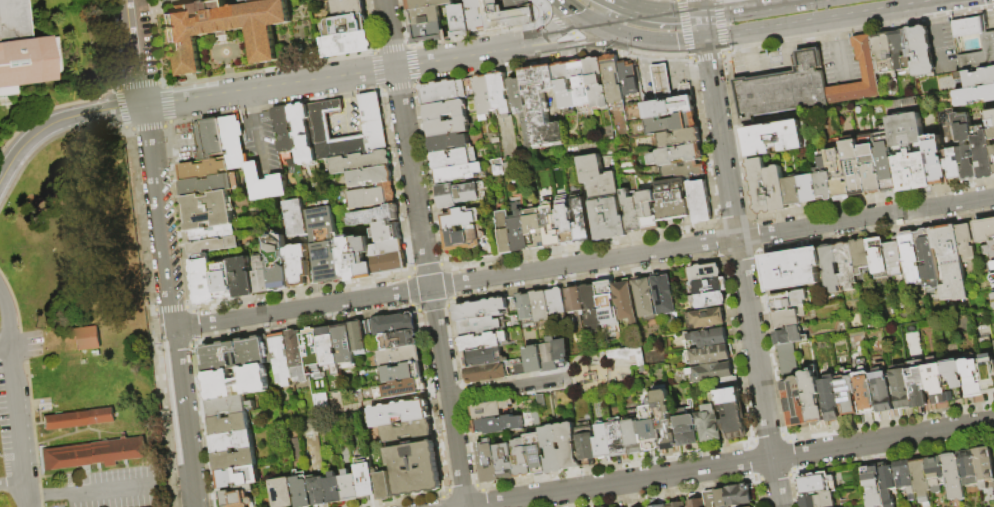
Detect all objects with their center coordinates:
building: (168, 0)
building: (316, 0)
building: (323, 0)
building: (427, 4)
road: (625, 6)
road: (699, 7)
building: (348, 8)
road: (756, 8)
road: (571, 9)
road: (612, 10)
road: (670, 14)
traffic signals: (701, 14)
road: (935, 14)
building: (476, 15)
building: (425, 17)
building: (505, 17)
traffic signals: (584, 18)
road: (829, 19)
building: (460, 22)
building: (346, 26)
road: (703, 27)
building: (224, 30)
road: (609, 30)
road: (834, 30)
road: (556, 32)
building: (428, 34)
traffic signals: (637, 39)
traffic signals: (705, 40)
road: (785, 40)
road: (670, 42)
building: (346, 45)
road: (583, 45)
road: (747, 45)
building: (987, 45)
road: (941, 48)
building: (24, 52)
building: (922, 52)
road: (135, 53)
building: (902, 54)
building: (883, 57)
building: (865, 58)
road: (788, 61)
road: (839, 61)
road: (750, 65)
road: (336, 77)
building: (979, 78)
building: (611, 79)
building: (628, 79)
building: (661, 82)
building: (580, 83)
building: (595, 83)
building: (564, 86)
building: (447, 91)
building: (783, 91)
building: (499, 92)
building: (518, 94)
building: (975, 94)
building: (483, 96)
road: (31, 100)
road: (249, 104)
building: (672, 104)
traffic signals: (144, 106)
building: (541, 107)
building: (989, 116)
road: (62, 119)
building: (435, 119)
building: (372, 123)
building: (319, 124)
building: (672, 124)
building: (284, 129)
building: (303, 133)
building: (990, 133)
building: (209, 139)
building: (679, 139)
building: (774, 139)
building: (233, 142)
road: (258, 142)
road: (407, 143)
building: (448, 143)
building: (964, 147)
building: (991, 150)
building: (676, 155)
building: (982, 156)
building: (457, 159)
building: (934, 159)
building: (359, 162)
building: (952, 163)
building: (869, 164)
building: (853, 166)
building: (501, 167)
building: (202, 169)
building: (684, 169)
building: (993, 169)
building: (887, 172)
building: (911, 172)
building: (458, 173)
building: (838, 174)
road: (1, 175)
building: (369, 176)
road: (1, 177)
building: (823, 177)
building: (209, 184)
building: (263, 184)
building: (759, 187)
building: (778, 189)
building: (802, 192)
building: (459, 194)
building: (372, 196)
building: (603, 199)
building: (699, 202)
building: (672, 206)
building: (647, 209)
building: (208, 210)
building: (632, 213)
building: (374, 215)
road: (159, 217)
building: (294, 218)
building: (459, 218)
building: (580, 221)
building: (566, 227)
building: (535, 229)
building: (551, 230)
building: (984, 230)
building: (385, 231)
building: (519, 232)
building: (505, 234)
building: (212, 239)
building: (463, 239)
road: (712, 241)
building: (964, 243)
building: (322, 245)
building: (386, 248)
building: (989, 249)
building: (908, 252)
building: (859, 253)
building: (876, 255)
building: (361, 257)
building: (892, 258)
building: (926, 258)
building: (346, 259)
building: (948, 262)
building: (276, 263)
building: (388, 263)
building: (296, 265)
building: (845, 265)
building: (992, 266)
building: (828, 267)
building: (791, 269)
park: (69, 272)
road: (742, 273)
building: (703, 274)
building: (241, 276)
building: (259, 276)
building: (991, 277)
building: (203, 281)
building: (224, 281)
building: (704, 288)
building: (663, 294)
building: (644, 297)
building: (788, 299)
building: (574, 300)
building: (992, 300)
building: (707, 301)
building: (556, 302)
building: (626, 302)
building: (606, 303)
building: (525, 307)
building: (540, 307)
road: (301, 308)
building: (591, 308)
building: (481, 309)
building: (787, 317)
building: (704, 319)
building: (393, 325)
building: (478, 326)
building: (367, 328)
building: (789, 335)
building: (357, 337)
building: (85, 338)
building: (709, 338)
building: (399, 340)
building: (482, 341)
building: (327, 346)
building: (344, 347)
building: (312, 353)
building: (563, 354)
building: (623, 354)
building: (236, 355)
building: (549, 355)
building: (708, 355)
road: (4, 357)
building: (399, 357)
building: (481, 357)
building: (296, 358)
building: (533, 359)
building: (786, 359)
building: (280, 360)
road: (592, 361)
building: (520, 370)
park: (604, 371)
building: (485, 373)
building: (710, 373)
building: (401, 374)
building: (971, 379)
building: (989, 379)
building: (953, 380)
building: (236, 383)
building: (917, 383)
building: (936, 383)
building: (901, 386)
building: (406, 388)
road: (508, 388)
building: (882, 390)
building: (728, 391)
building: (865, 391)
road: (181, 394)
building: (847, 395)
road: (447, 396)
building: (812, 398)
building: (830, 398)
road: (13, 399)
building: (795, 402)
building: (228, 407)
building: (489, 409)
building: (399, 414)
building: (663, 418)
building: (78, 419)
building: (732, 422)
building: (708, 424)
building: (229, 425)
building: (496, 425)
parking lot: (9, 427)
building: (406, 431)
building: (685, 431)
building: (650, 433)
building: (634, 436)
building: (618, 440)
building: (603, 441)
building: (231, 443)
building: (586, 443)
building: (568, 446)
building: (552, 448)
building: (93, 454)
building: (537, 455)
building: (521, 459)
building: (234, 460)
building: (488, 461)
building: (505, 461)
road: (732, 464)
building: (983, 466)
building: (967, 467)
building: (414, 469)
building: (935, 473)
building: (952, 476)
building: (904, 477)
building: (237, 478)
building: (920, 480)
road: (12, 482)
road: (191, 483)
building: (365, 483)
building: (815, 483)
building: (887, 483)
building: (872, 485)
building: (381, 486)
building: (349, 487)
parking lot: (112, 488)
building: (334, 489)
building: (318, 490)
road: (110, 491)
building: (301, 492)
building: (282, 493)
road: (45, 496)
building: (238, 497)
building: (729, 497)
building: (817, 500)
building: (696, 503)
building: (676, 504)
building: (655, 505)
building: (661, 506)
building: (749, 506)

